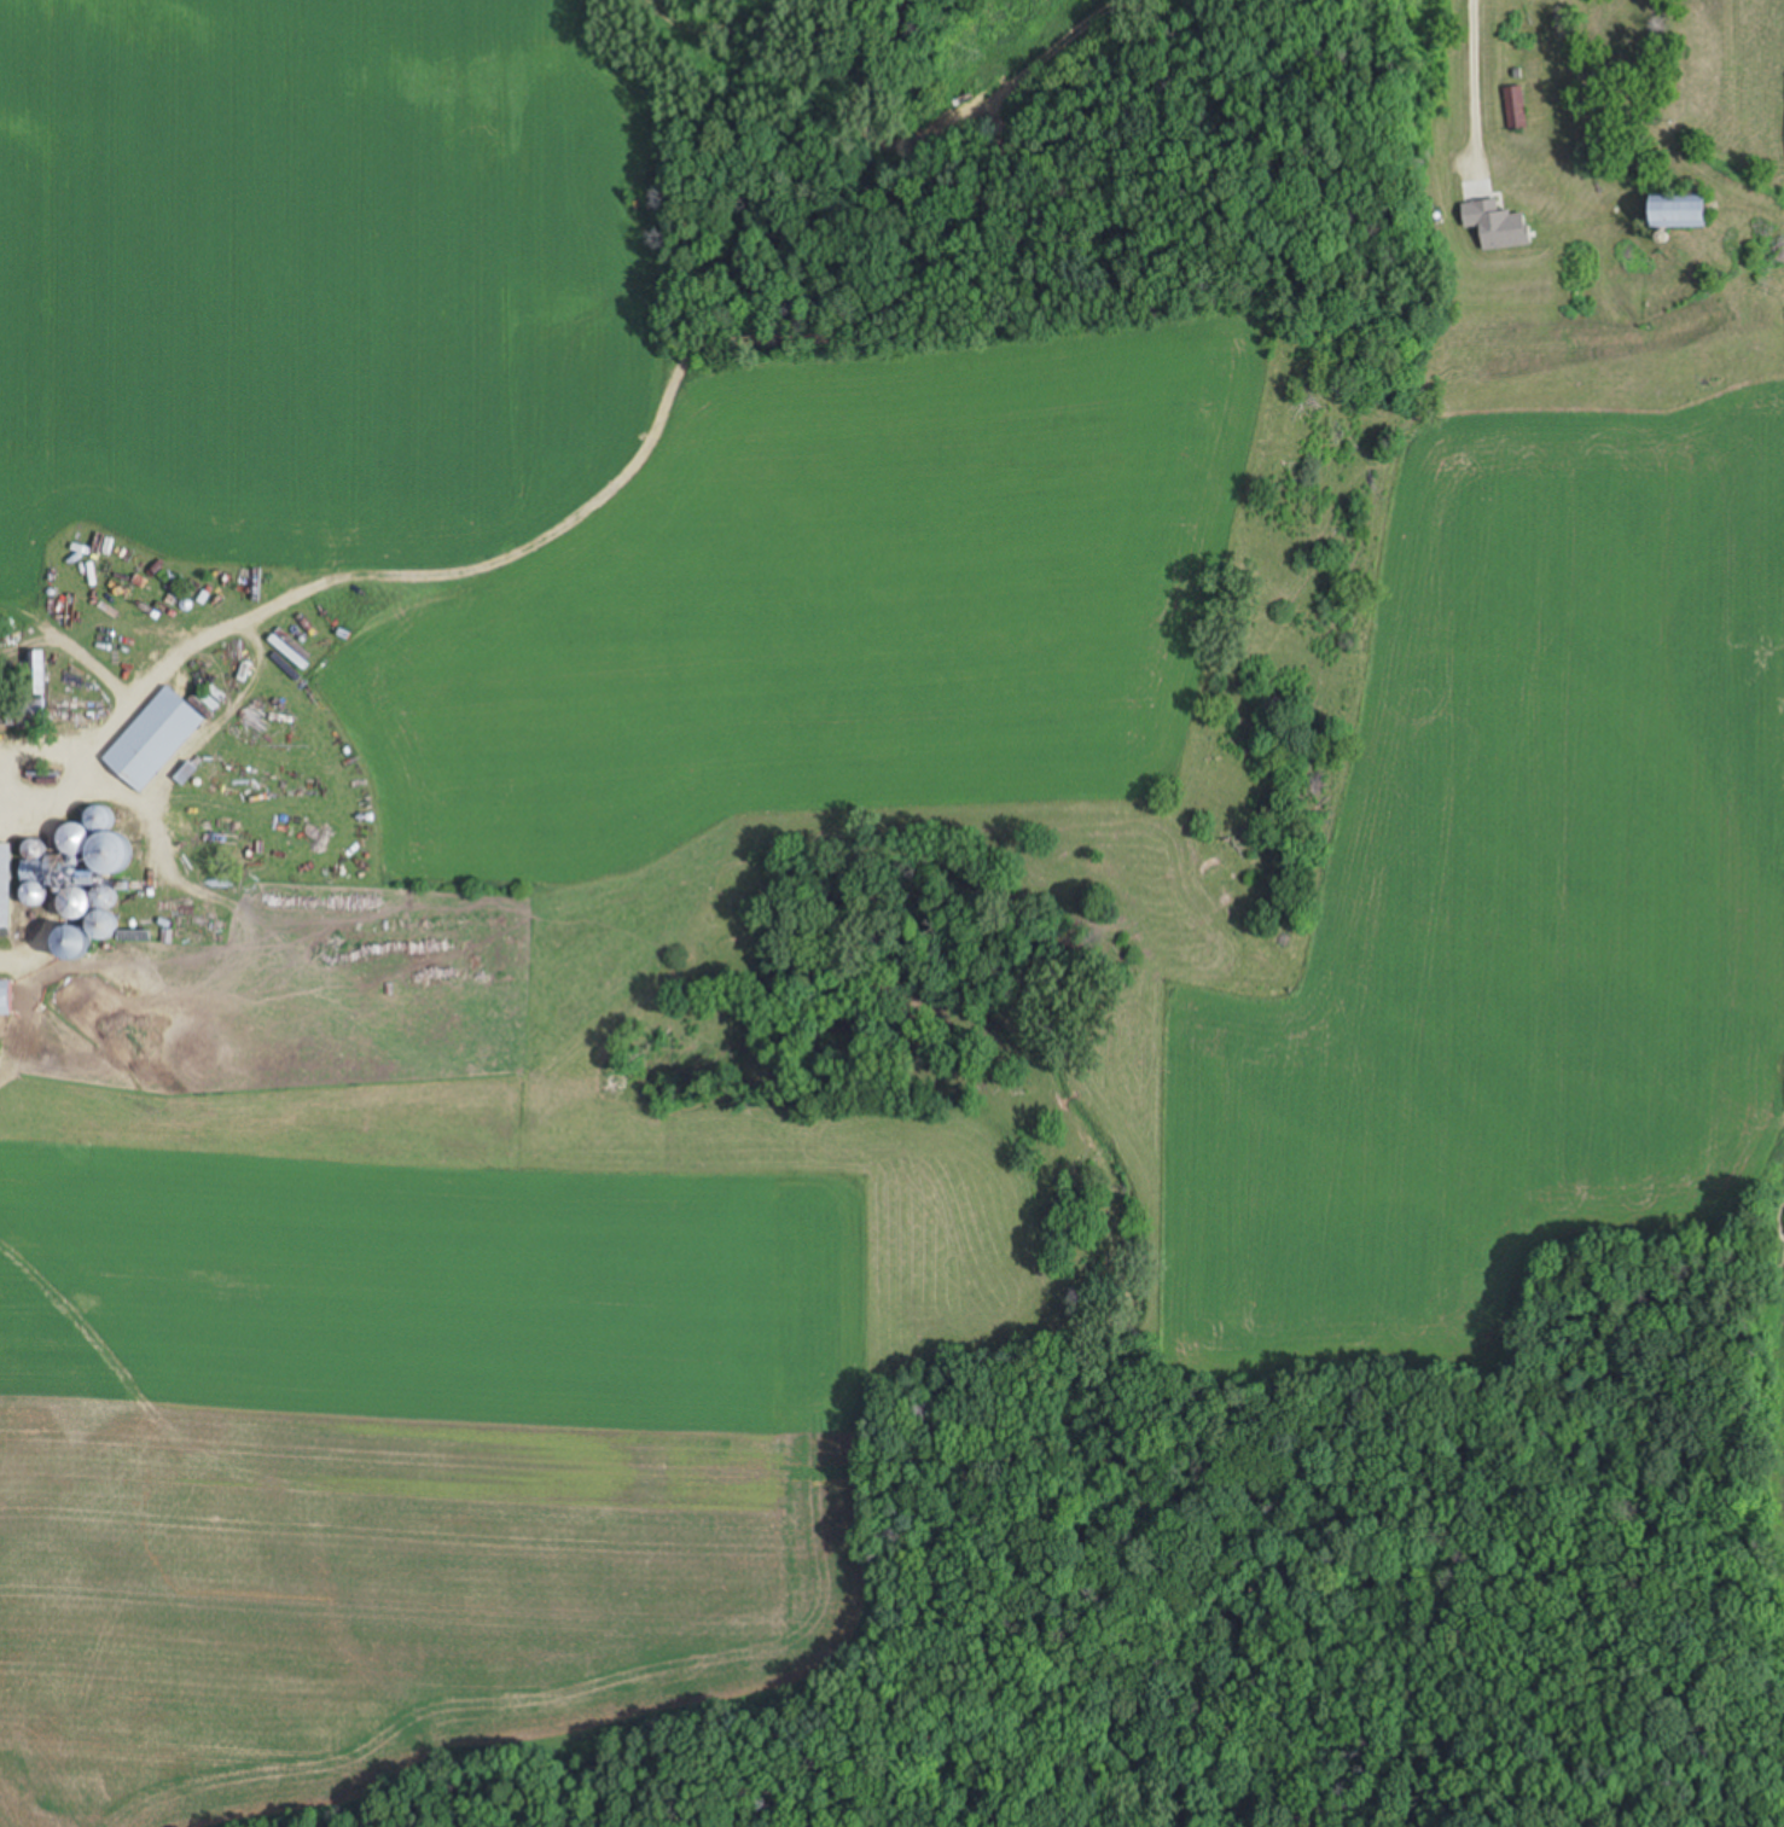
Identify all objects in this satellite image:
building: (1620, 29)
building: (1513, 109)
building: (1674, 211)
building: (36, 675)
building: (151, 740)
building: (65, 839)
building: (4, 886)
building: (69, 904)
building: (101, 923)
building: (65, 944)
building: (4, 1000)

